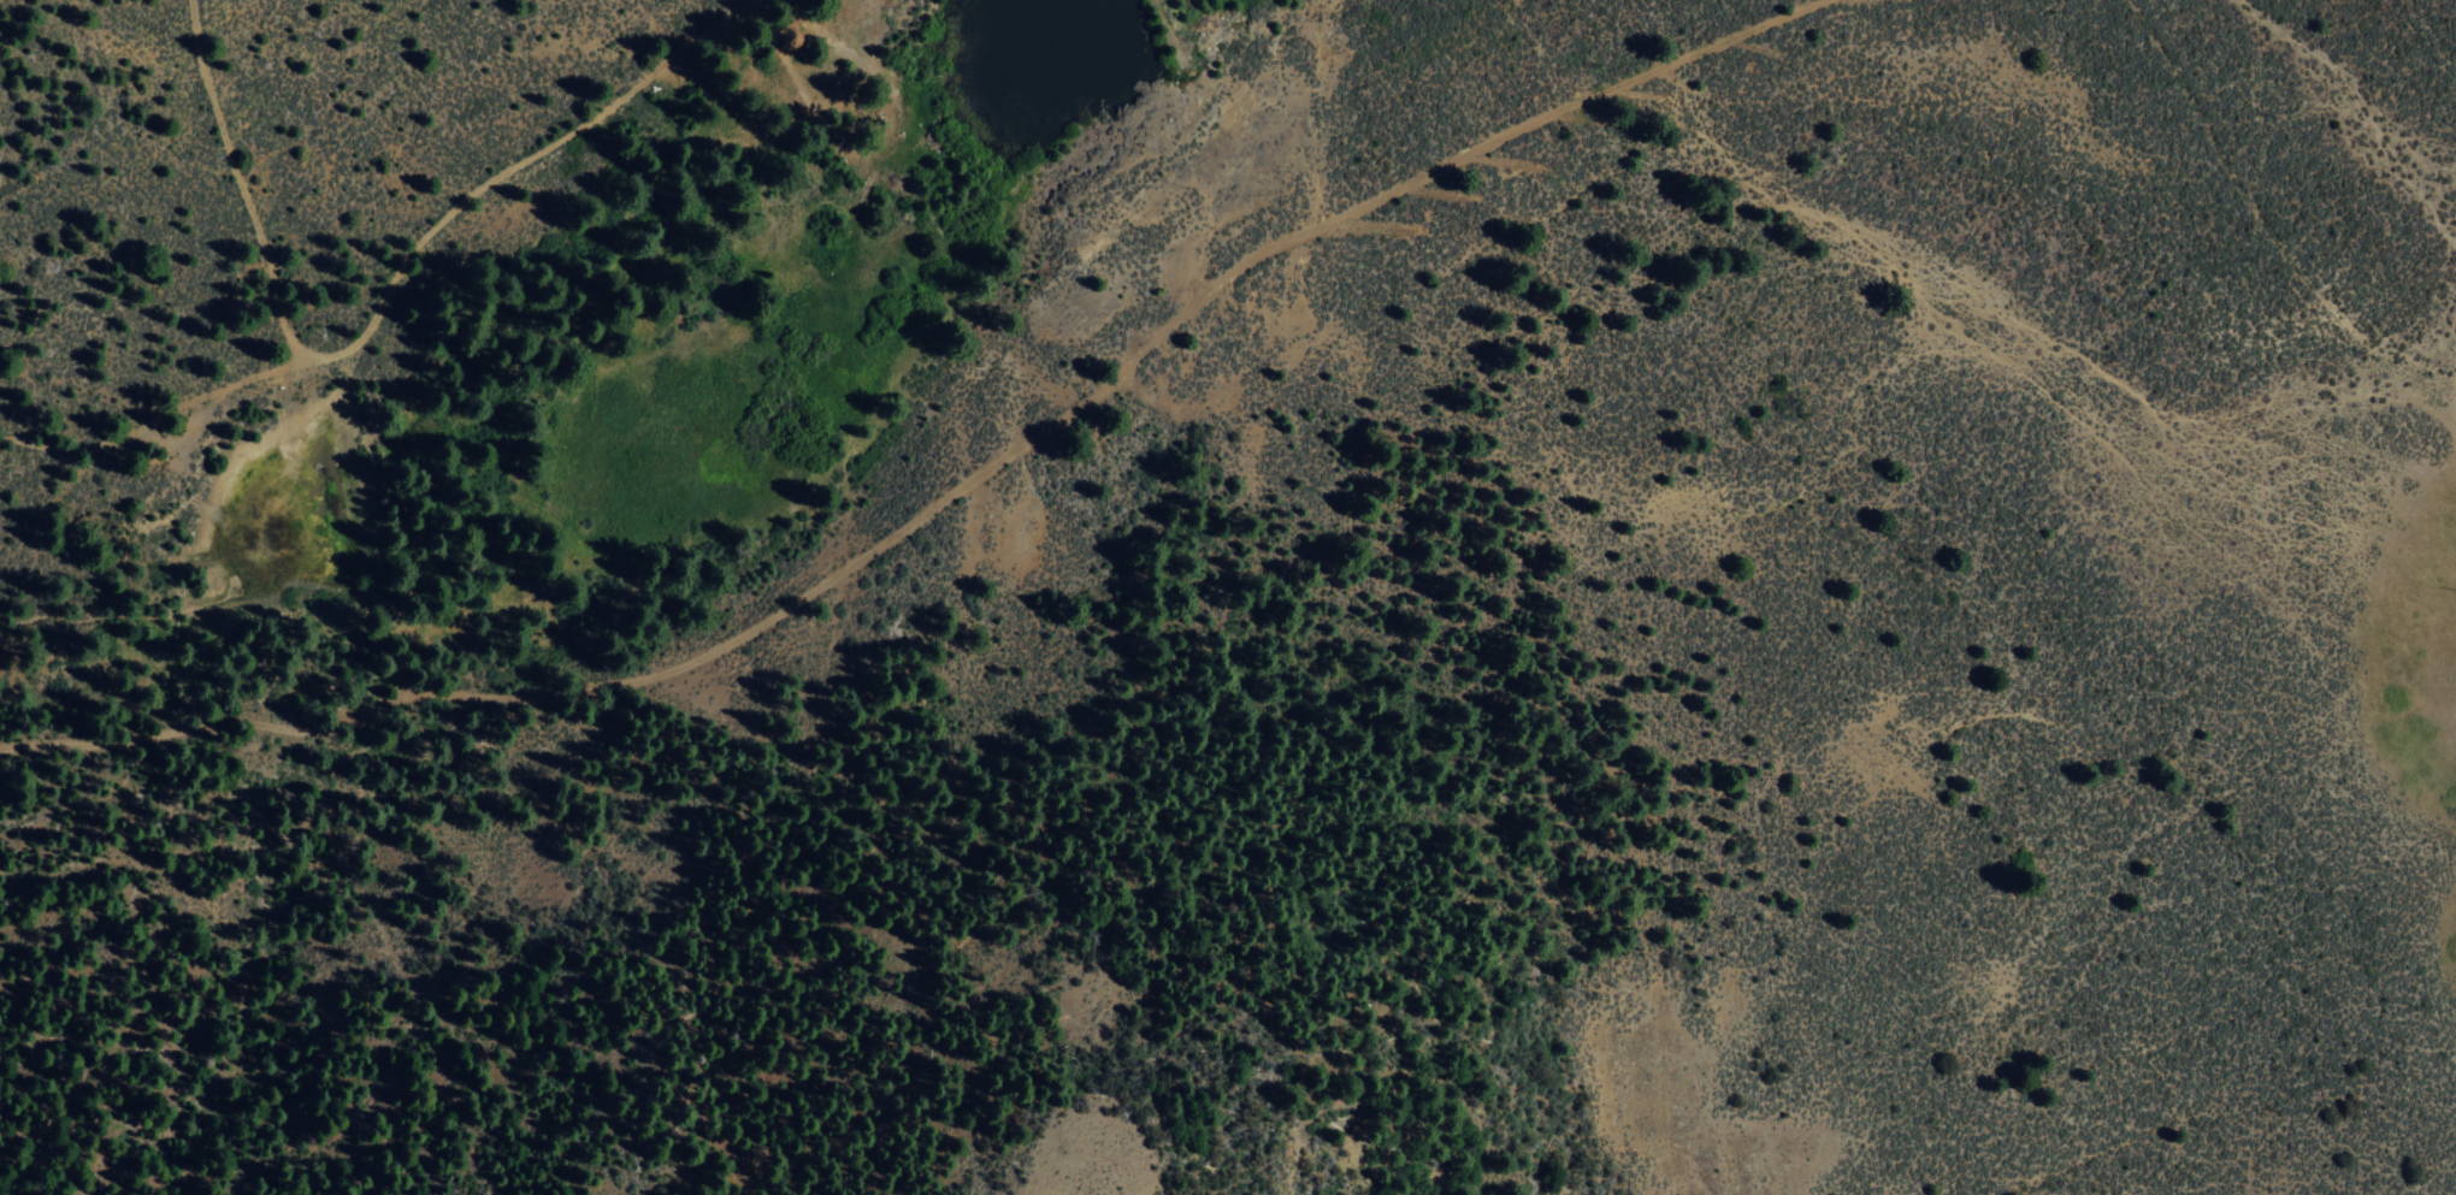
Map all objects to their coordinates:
crop: (498, 574)

